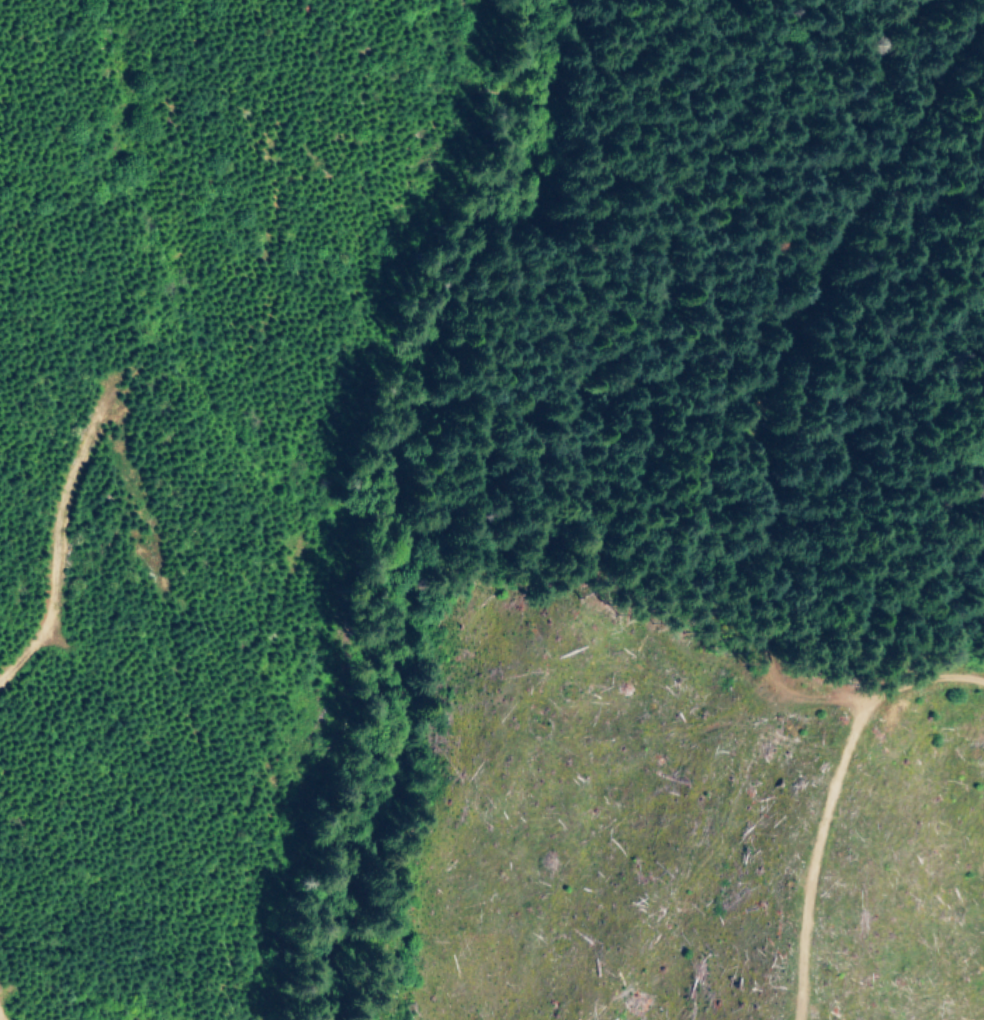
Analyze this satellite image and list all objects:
road: (768, 414)

